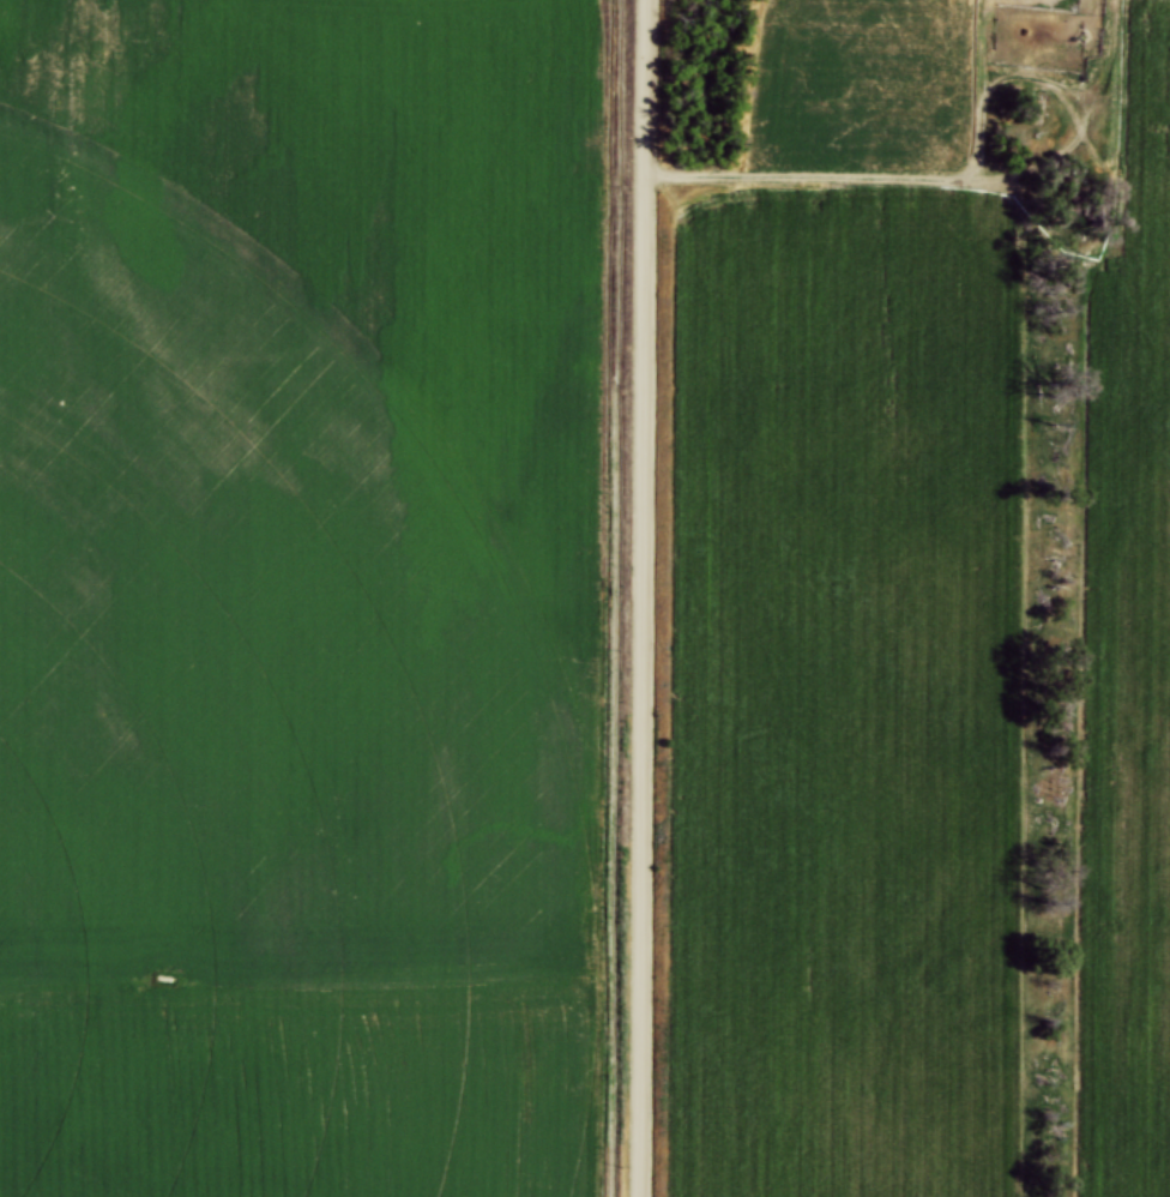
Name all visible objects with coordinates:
road: (851, 179)
road: (641, 597)

